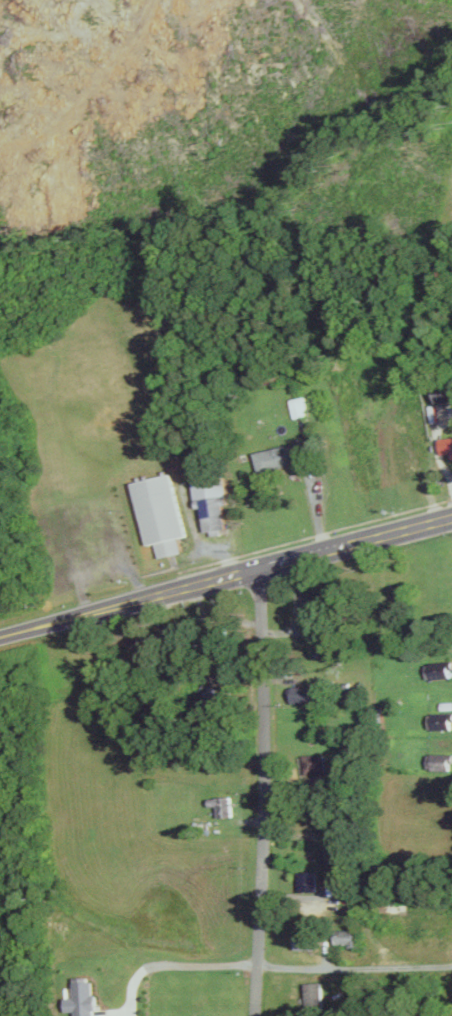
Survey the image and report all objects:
building: (444, 391)
building: (298, 406)
building: (446, 444)
building: (277, 457)
building: (212, 501)
road: (314, 504)
building: (161, 513)
road: (315, 535)
road: (255, 570)
road: (30, 630)
building: (438, 669)
building: (304, 695)
building: (446, 705)
building: (440, 720)
building: (439, 761)
building: (315, 763)
road: (256, 792)
building: (223, 805)
building: (334, 853)
building: (309, 880)
building: (348, 937)
building: (307, 940)
road: (160, 964)
road: (353, 971)
building: (314, 994)
building: (82, 997)

